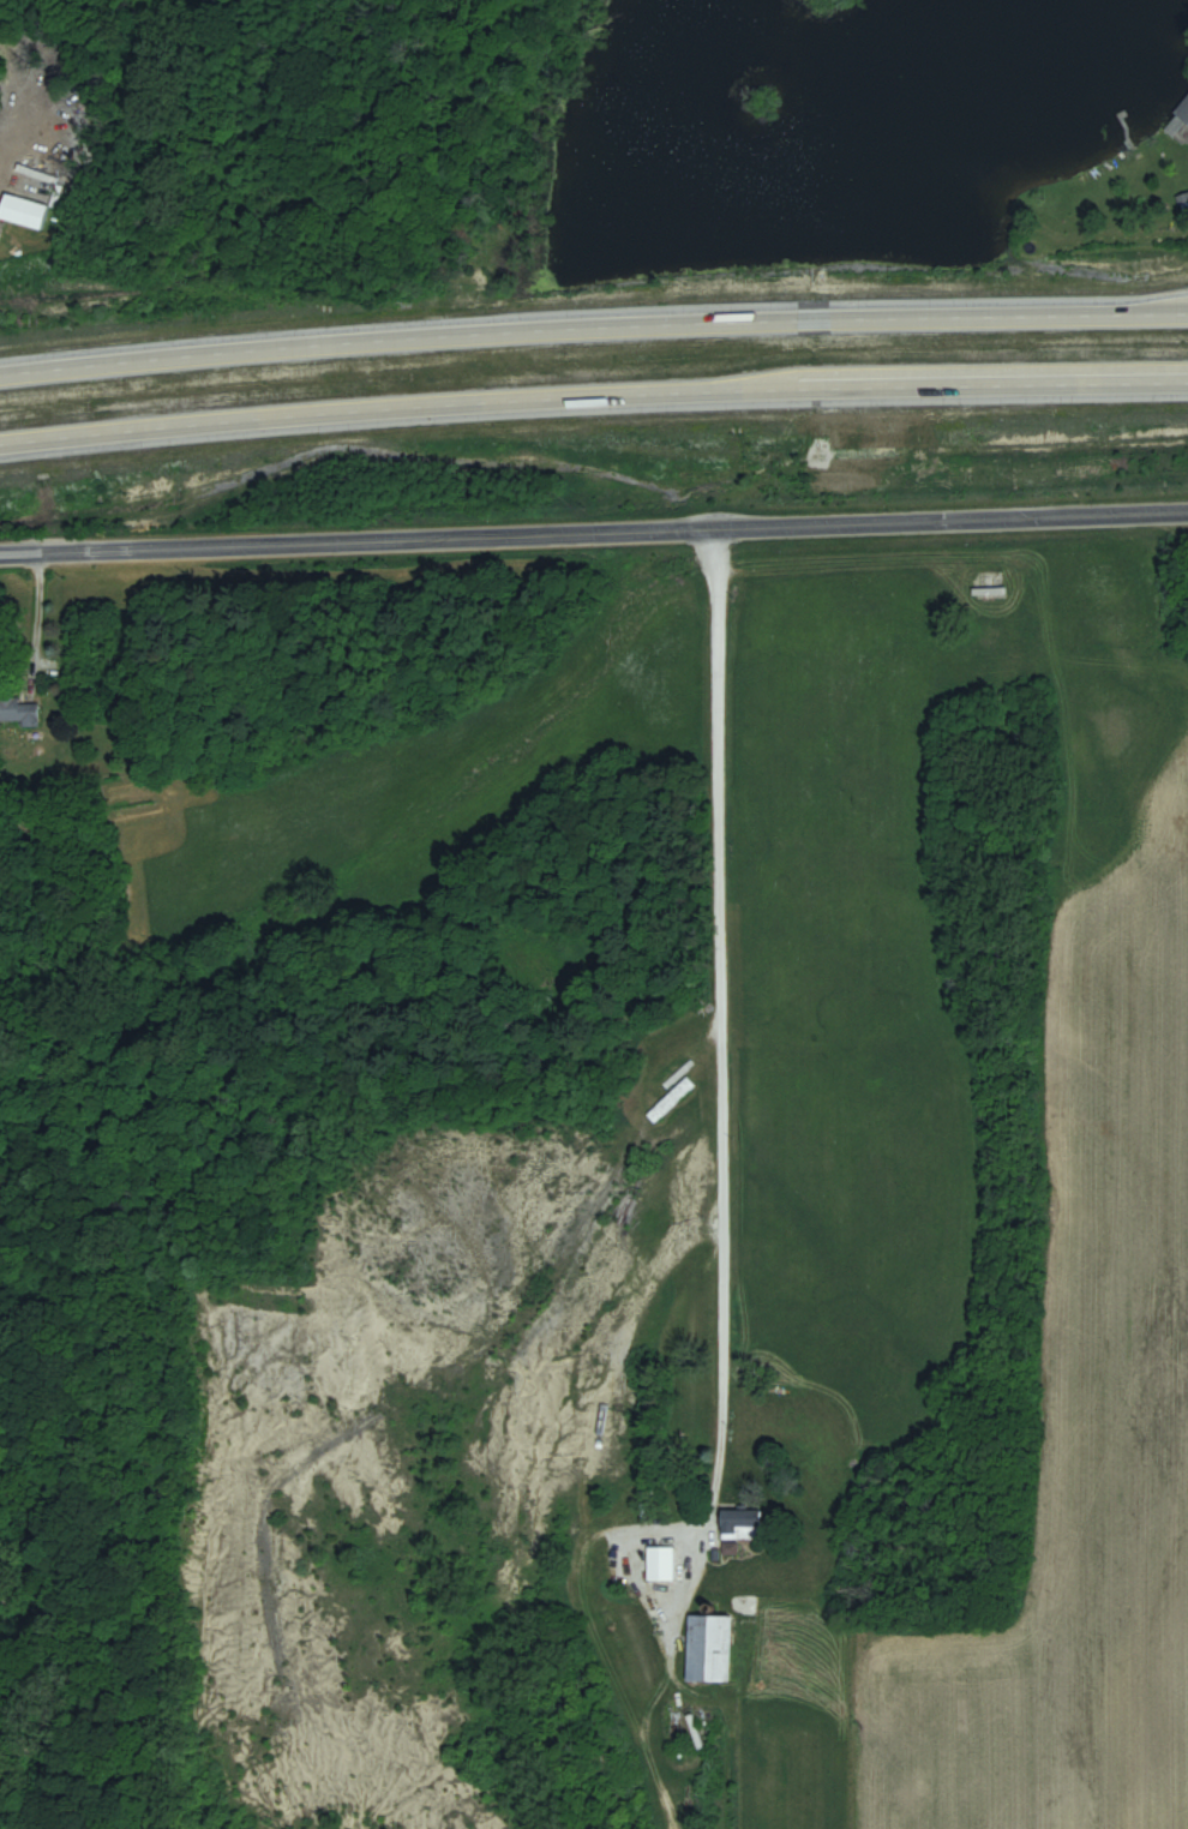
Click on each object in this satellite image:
building: (1182, 110)
road: (6, 116)
building: (23, 210)
road: (593, 325)
road: (593, 407)
road: (594, 534)
road: (34, 623)
building: (19, 712)
building: (671, 1099)
road: (720, 1197)
building: (742, 1525)
building: (660, 1564)
building: (708, 1648)

